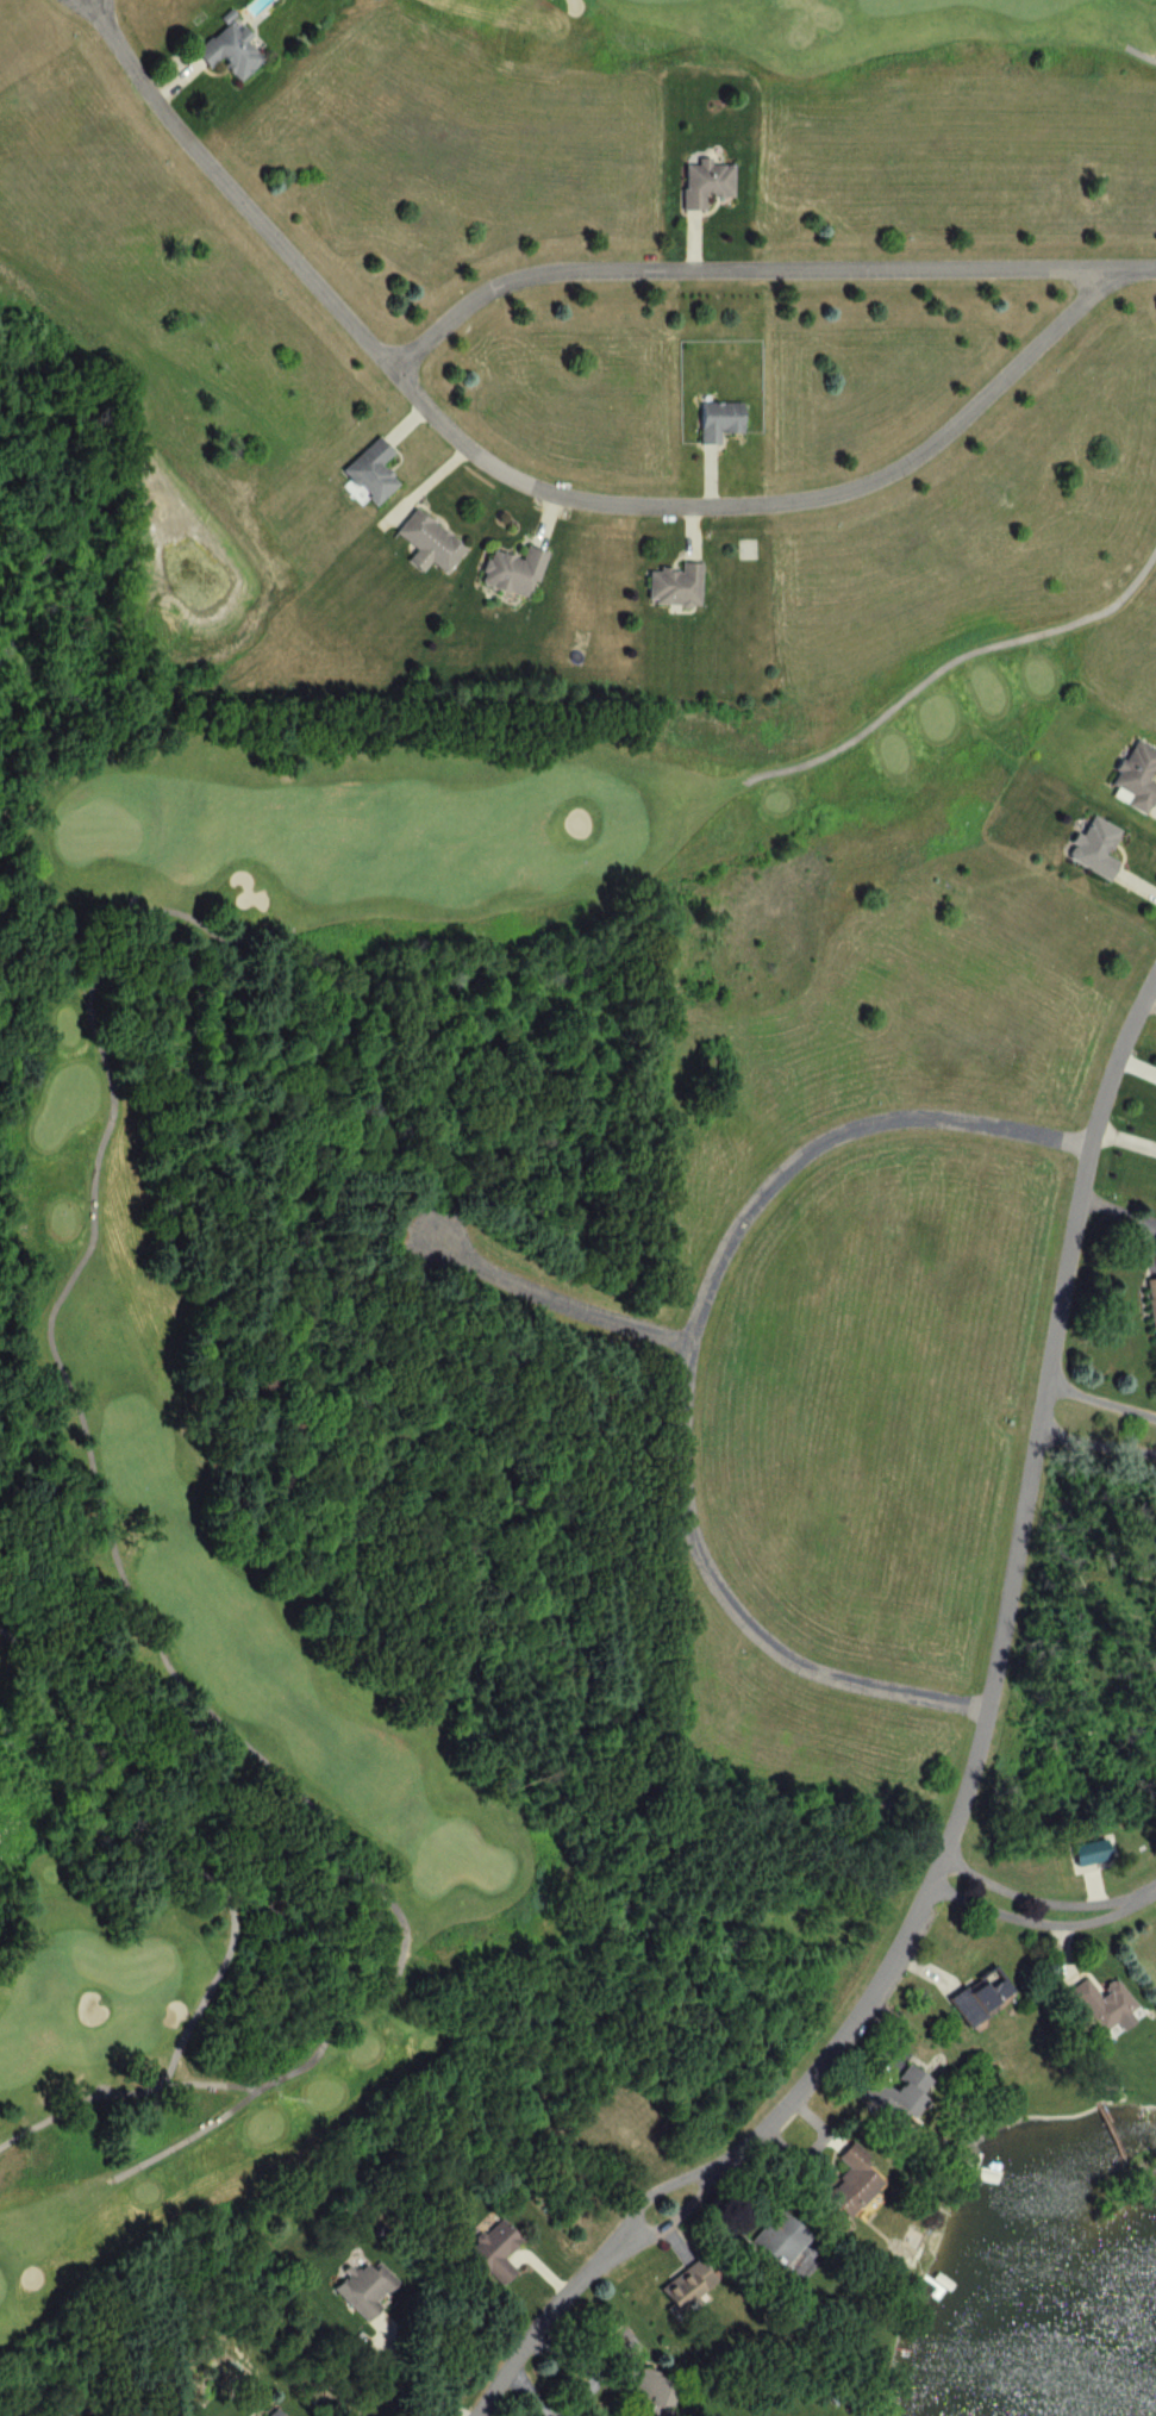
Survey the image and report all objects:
building: (225, 51)
road: (1139, 54)
park: (807, 56)
building: (701, 183)
road: (760, 269)
building: (716, 422)
building: (368, 473)
road: (538, 491)
building: (426, 544)
building: (510, 573)
building: (673, 587)
road: (949, 663)
building: (1132, 778)
building: (1091, 849)
park: (110, 1198)
road: (555, 1303)
building: (1149, 1310)
road: (683, 1363)
road: (1100, 1400)
road: (1096, 1446)
road: (121, 1582)
road: (964, 1785)
road: (158, 1846)
road: (1148, 1890)
road: (1035, 1902)
road: (1036, 1919)
building: (974, 1996)
building: (1094, 2002)
road: (120, 2084)
building: (889, 2096)
building: (844, 2181)
building: (768, 2241)
building: (487, 2250)
building: (680, 2285)
building: (356, 2286)
road: (412, 2378)
building: (642, 2395)
building: (264, 2412)

